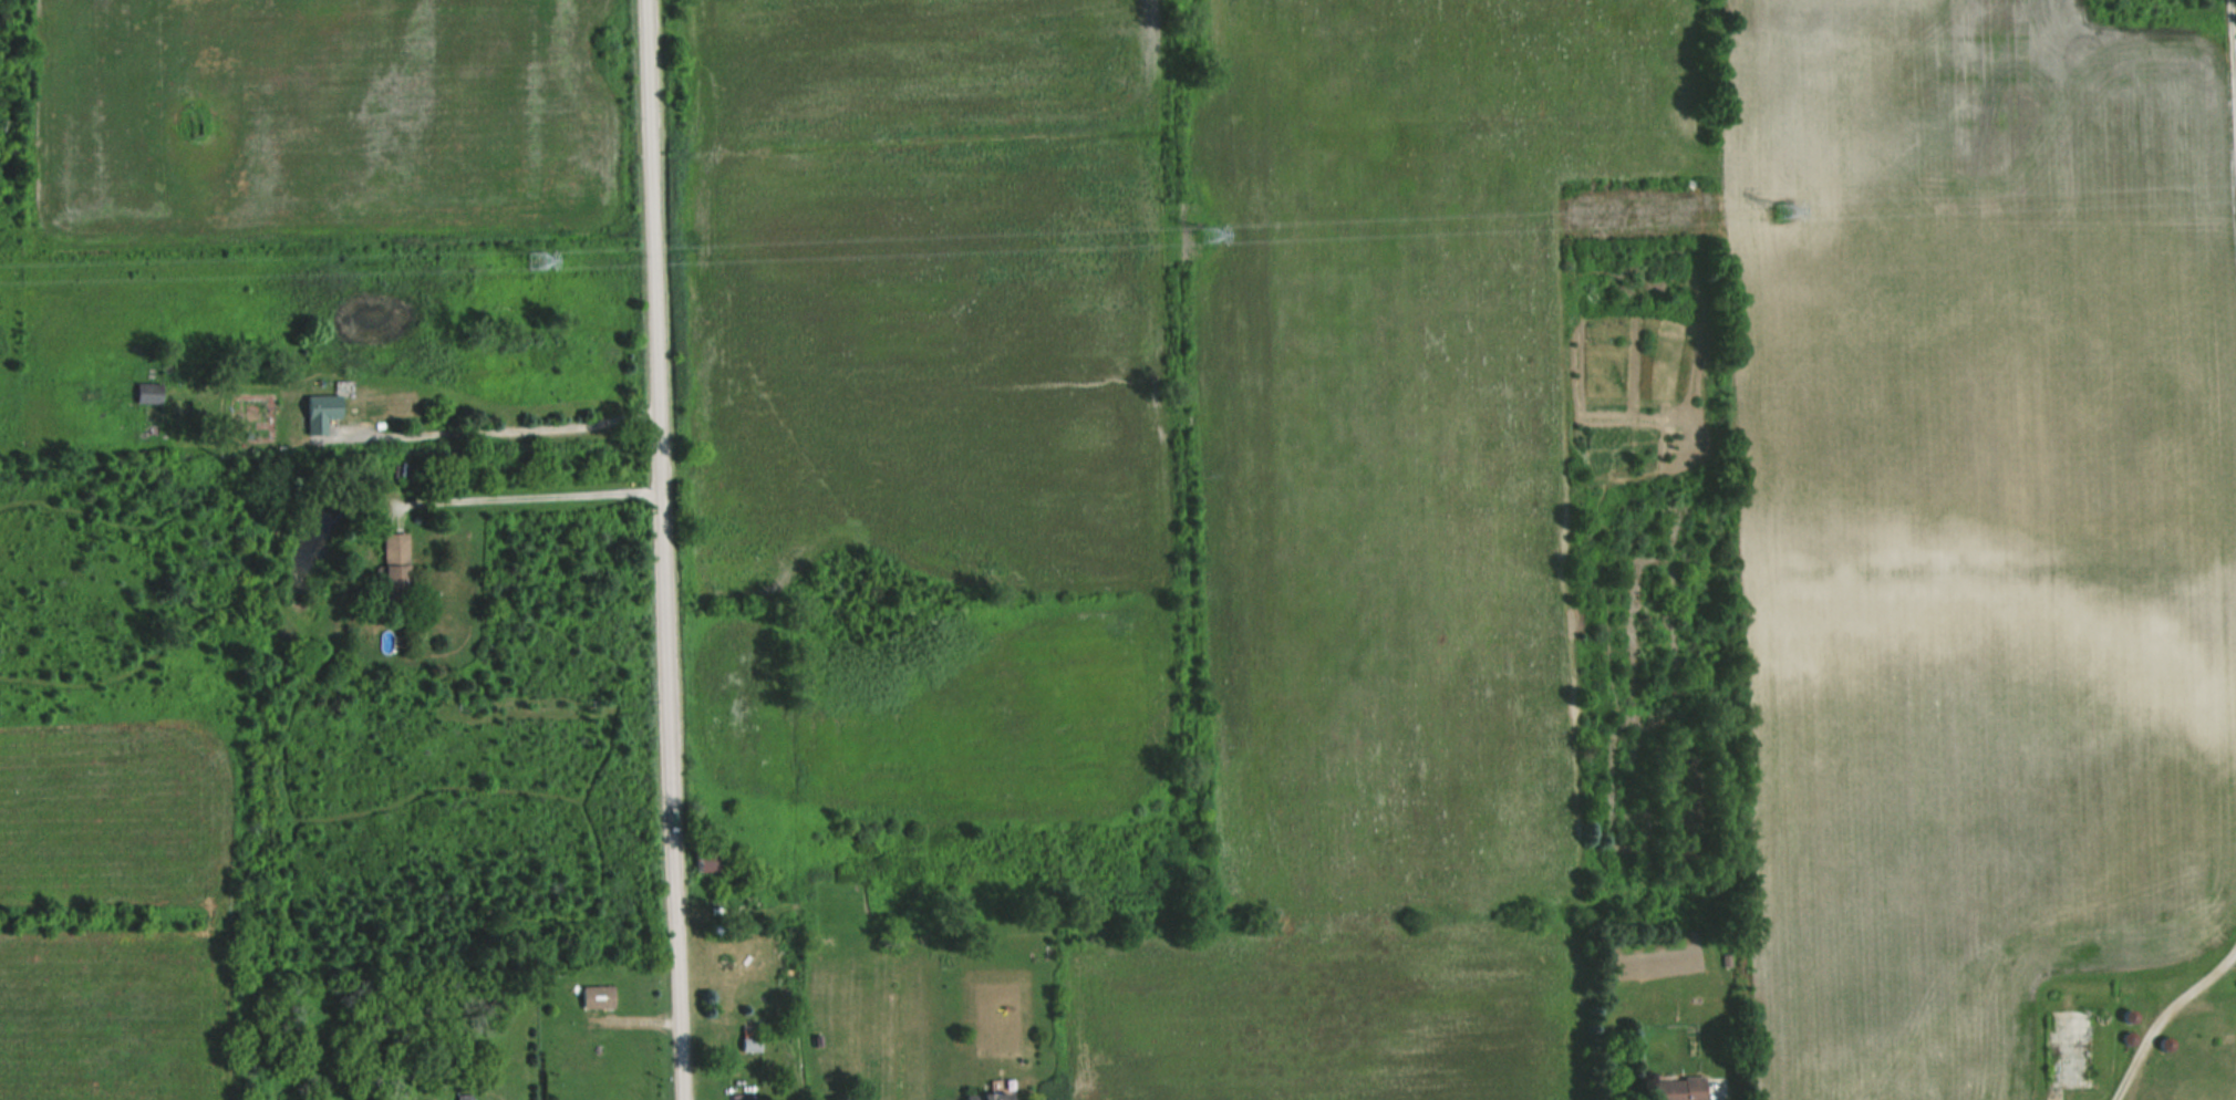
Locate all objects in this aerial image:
road: (2233, 52)
power tower: (1787, 212)
power tower: (1207, 237)
power tower: (538, 259)
building: (147, 392)
building: (320, 412)
road: (499, 428)
road: (529, 496)
road: (658, 550)
building: (394, 563)
building: (597, 996)
road: (2163, 1015)
building: (748, 1039)
building: (1677, 1088)
building: (464, 1096)
building: (985, 1096)

